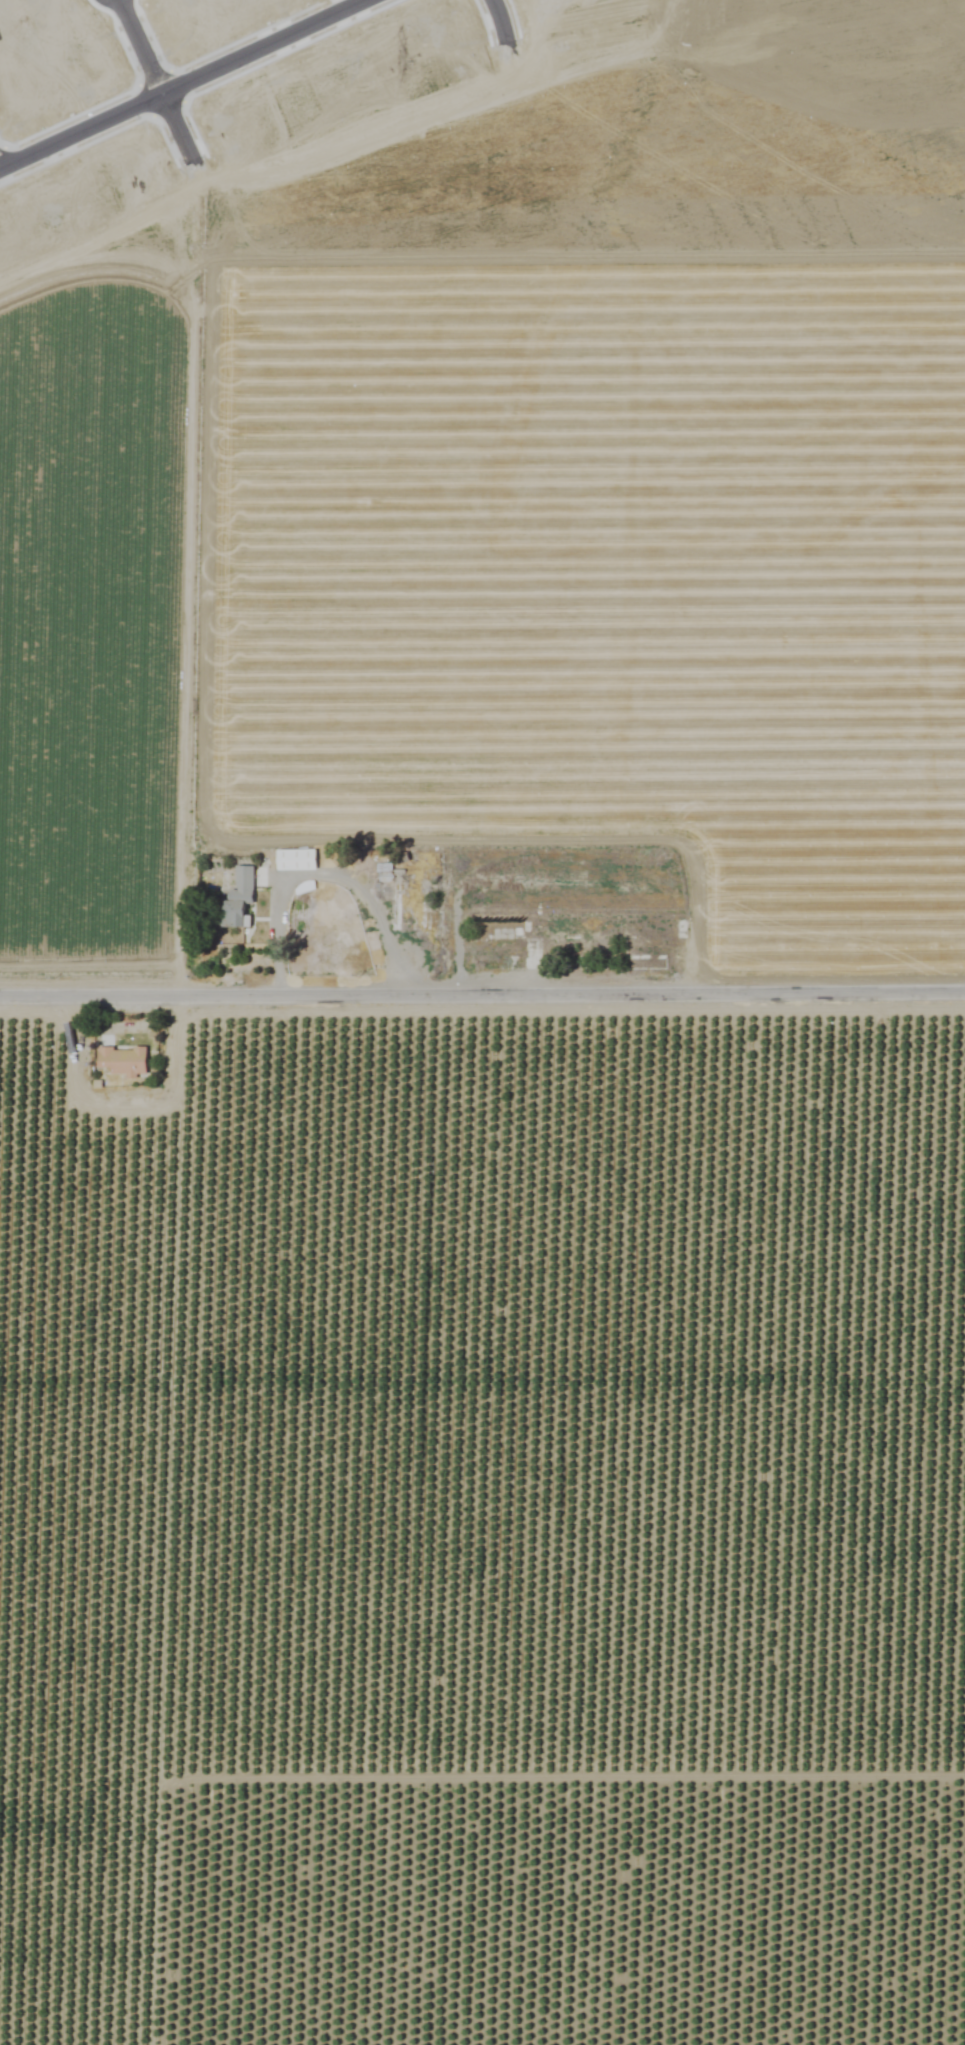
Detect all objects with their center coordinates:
road: (494, 22)
road: (150, 83)
road: (185, 85)
building: (295, 860)
building: (383, 868)
road: (323, 876)
building: (237, 899)
road: (482, 997)
crop: (482, 1022)
building: (121, 1060)

